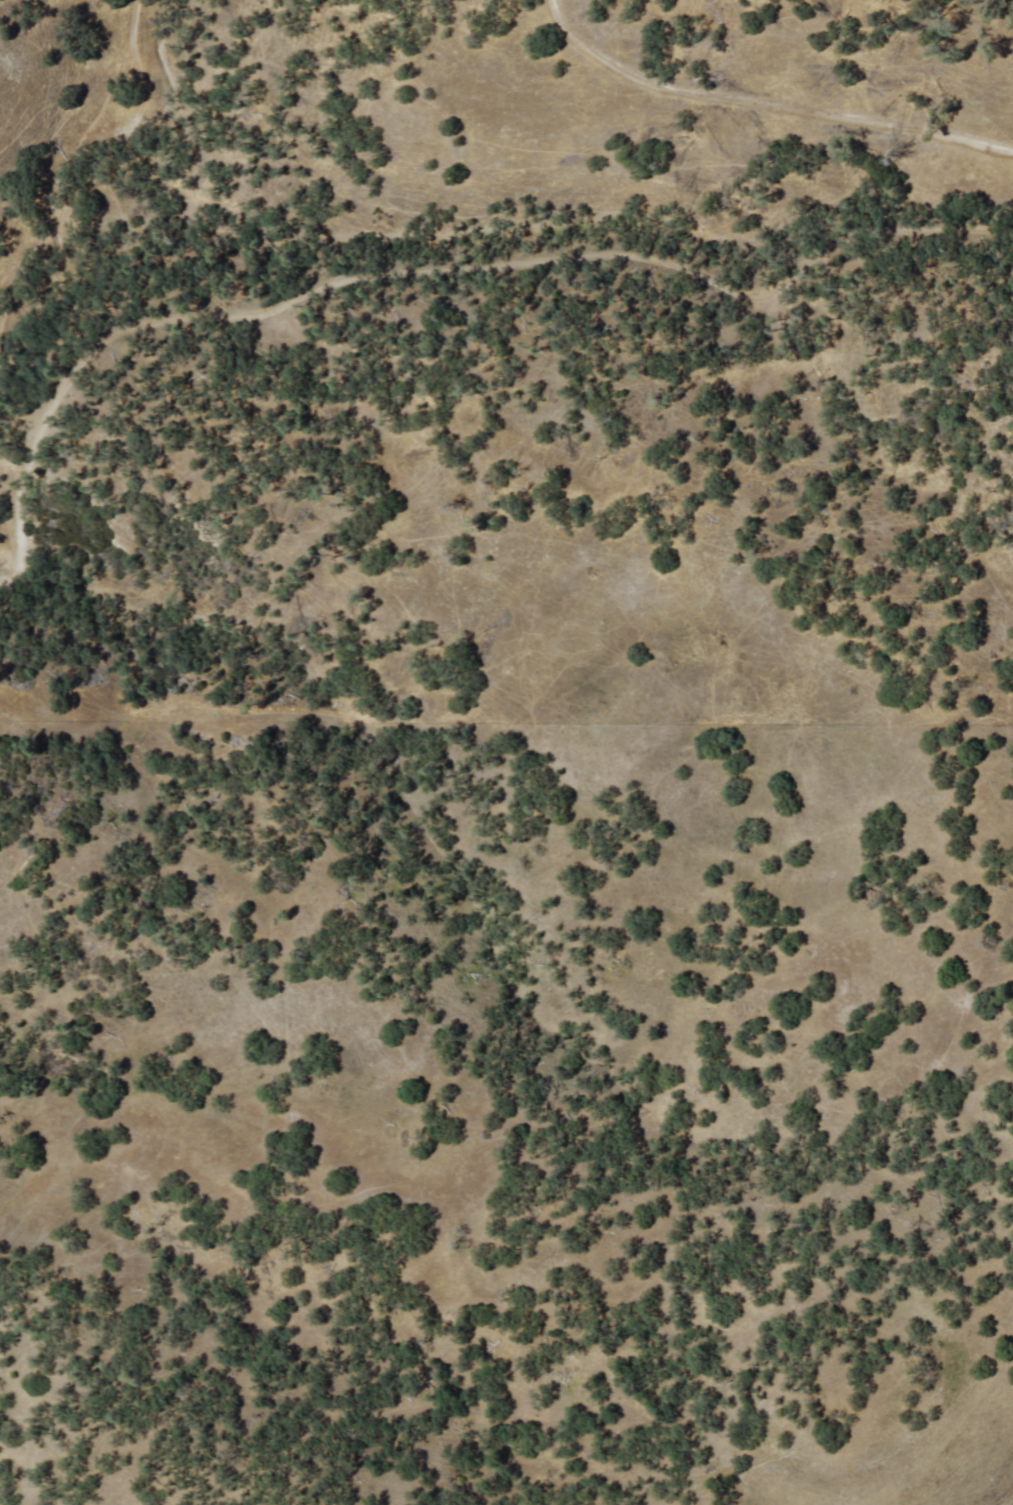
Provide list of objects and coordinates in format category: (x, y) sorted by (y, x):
road: (824, 62)
road: (376, 216)

